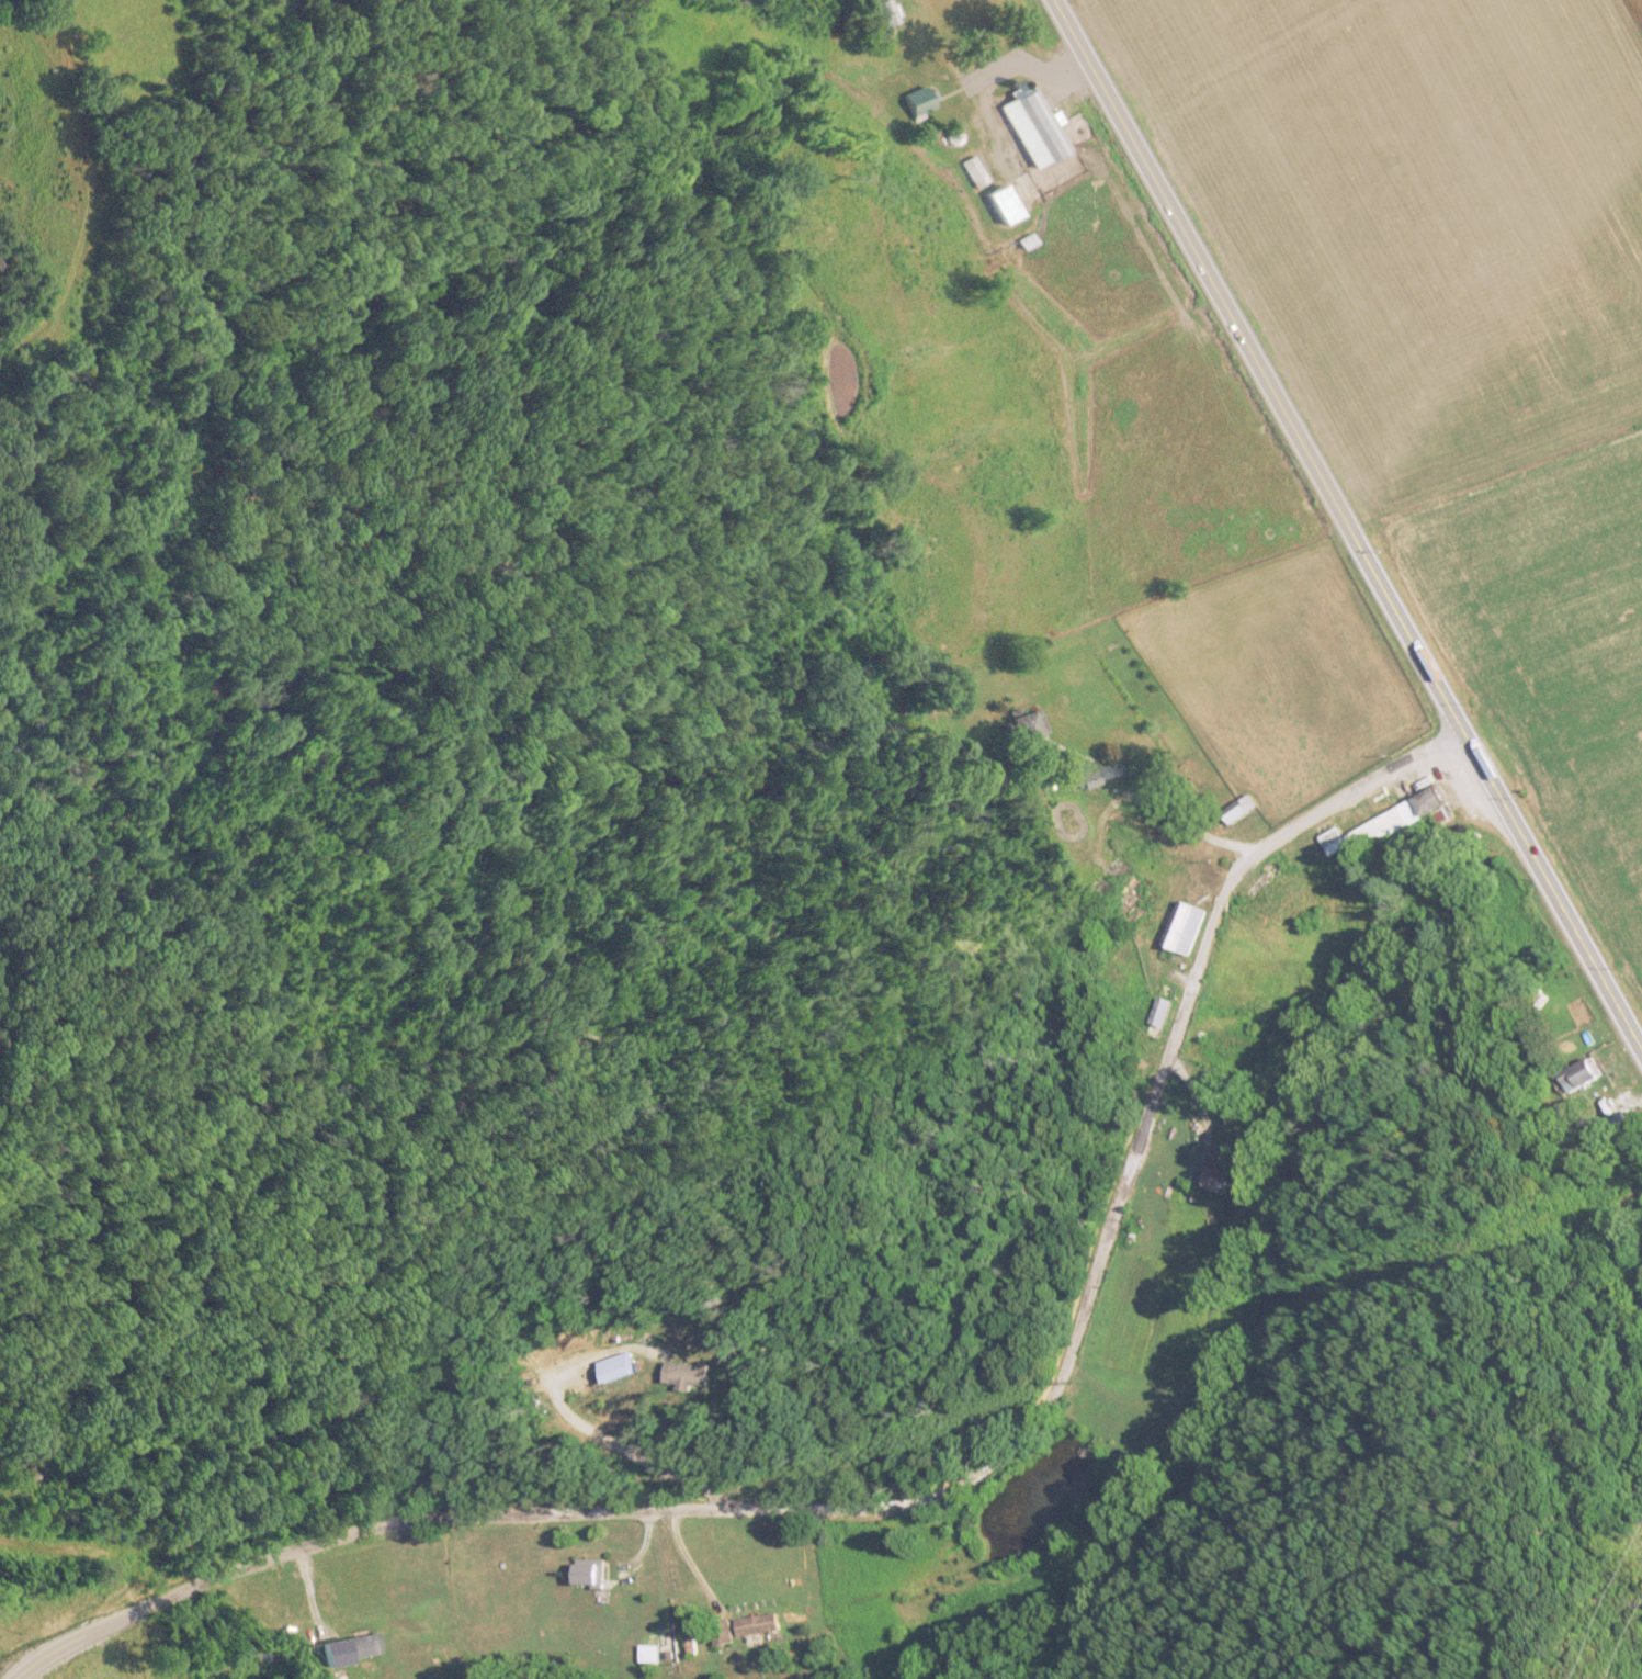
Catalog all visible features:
building: (1034, 129)
building: (1005, 206)
road: (1346, 526)
building: (1029, 726)
building: (1090, 778)
building: (1382, 825)
building: (1185, 928)
building: (1162, 1012)
building: (1586, 1072)
building: (1219, 1170)
road: (936, 1476)
building: (590, 1575)
building: (758, 1625)
building: (723, 1633)
building: (362, 1647)
building: (649, 1655)

